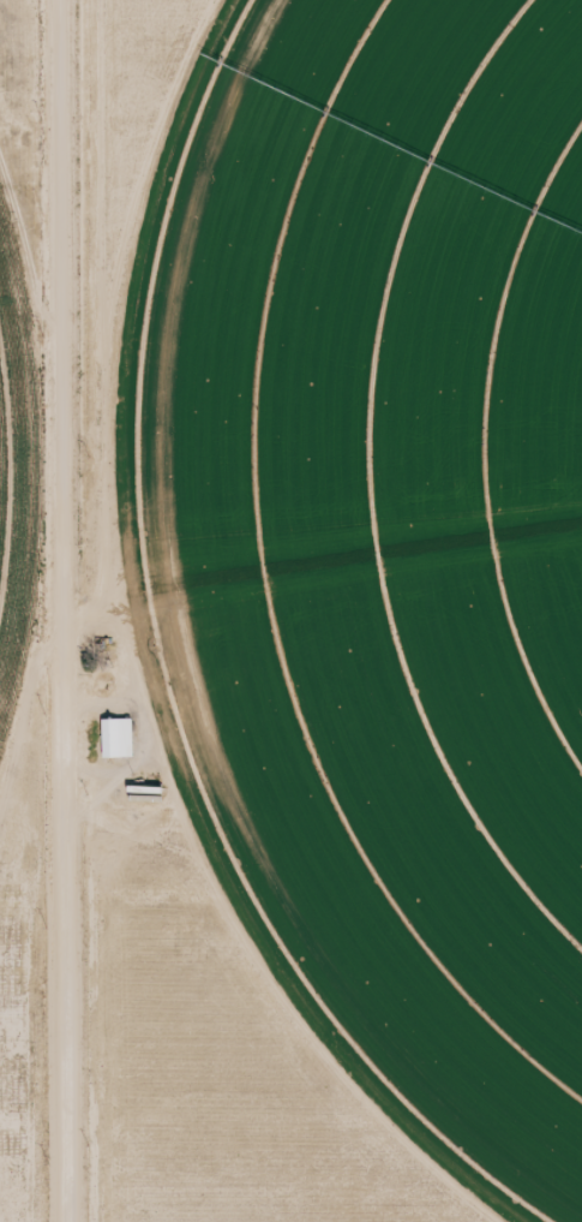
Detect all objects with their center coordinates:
crop: (24, 469)
crop: (380, 541)
road: (65, 610)
building: (113, 738)

